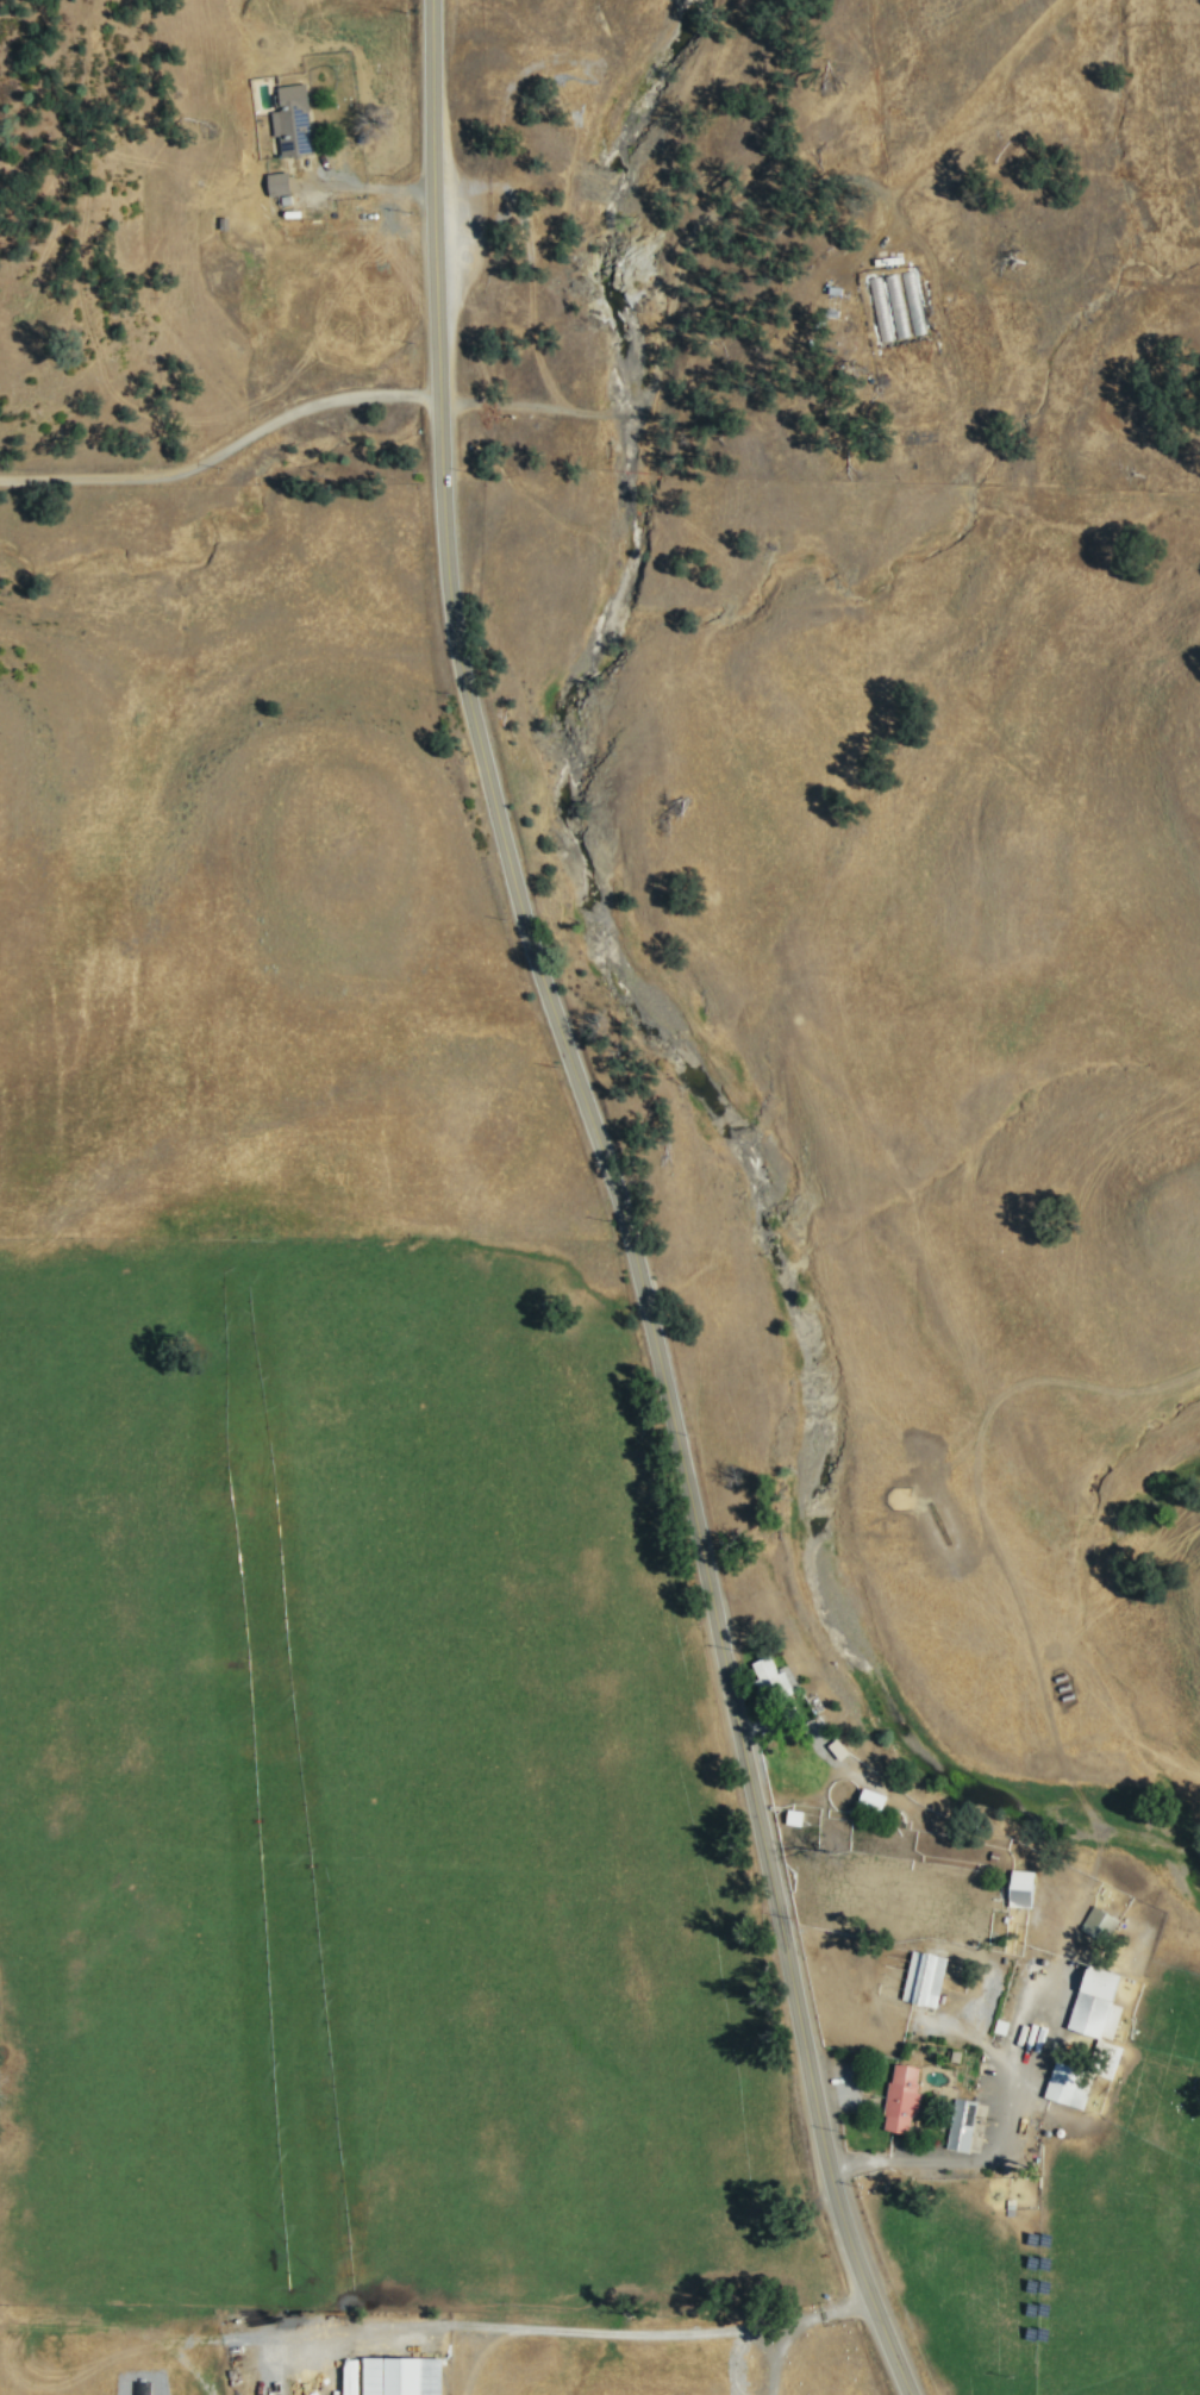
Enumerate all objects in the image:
building: (294, 120)
building: (280, 182)
road: (518, 404)
river: (620, 450)
road: (224, 457)
road: (620, 1203)
building: (768, 1675)
building: (873, 1799)
building: (795, 1815)
building: (1021, 1887)
building: (1100, 1922)
building: (924, 1976)
building: (1098, 2001)
building: (1070, 2083)
building: (902, 2096)
building: (962, 2124)
road: (552, 2327)
road: (771, 2358)
building: (404, 2375)

